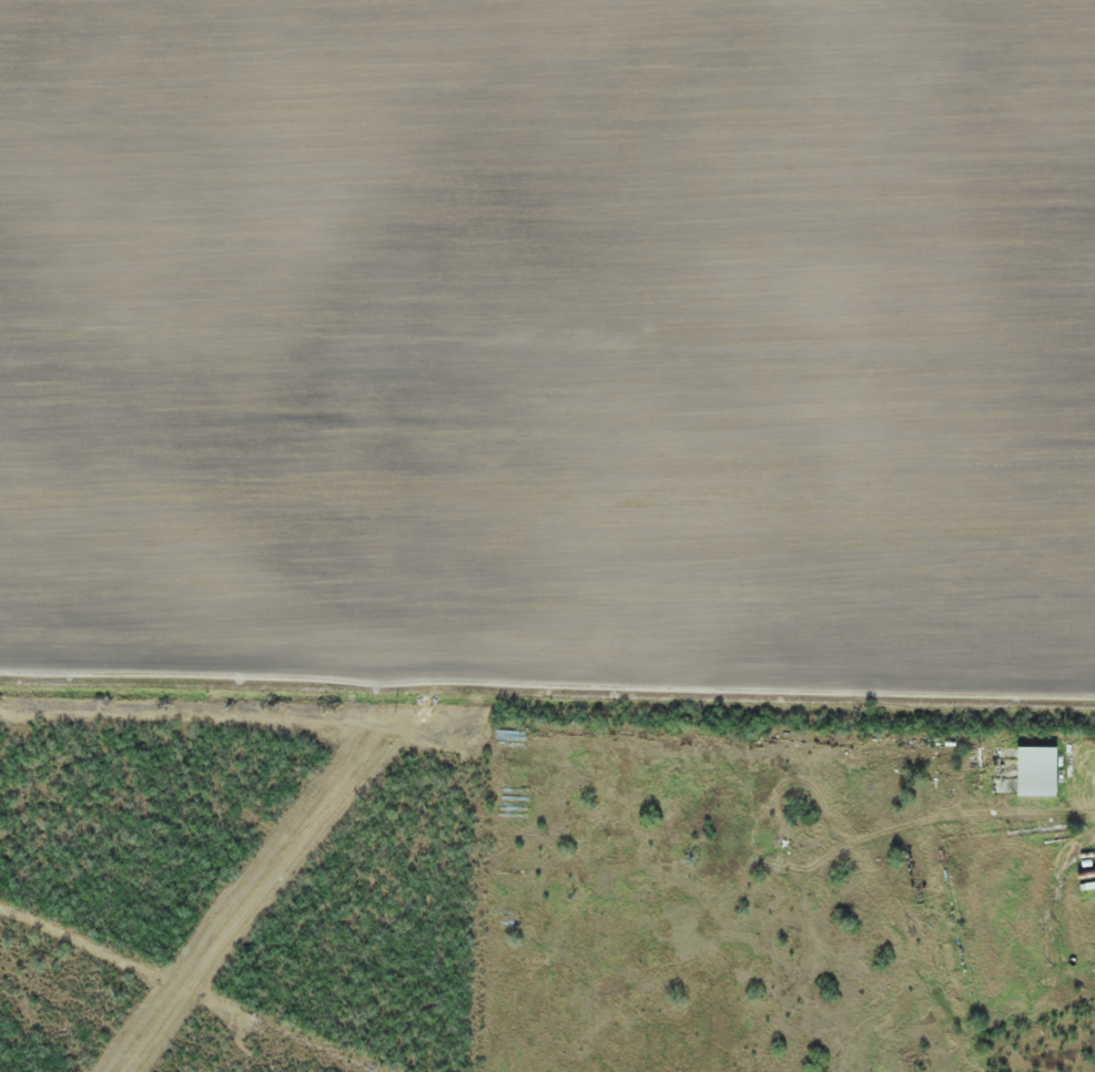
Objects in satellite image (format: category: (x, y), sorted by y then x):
building: (1036, 773)

